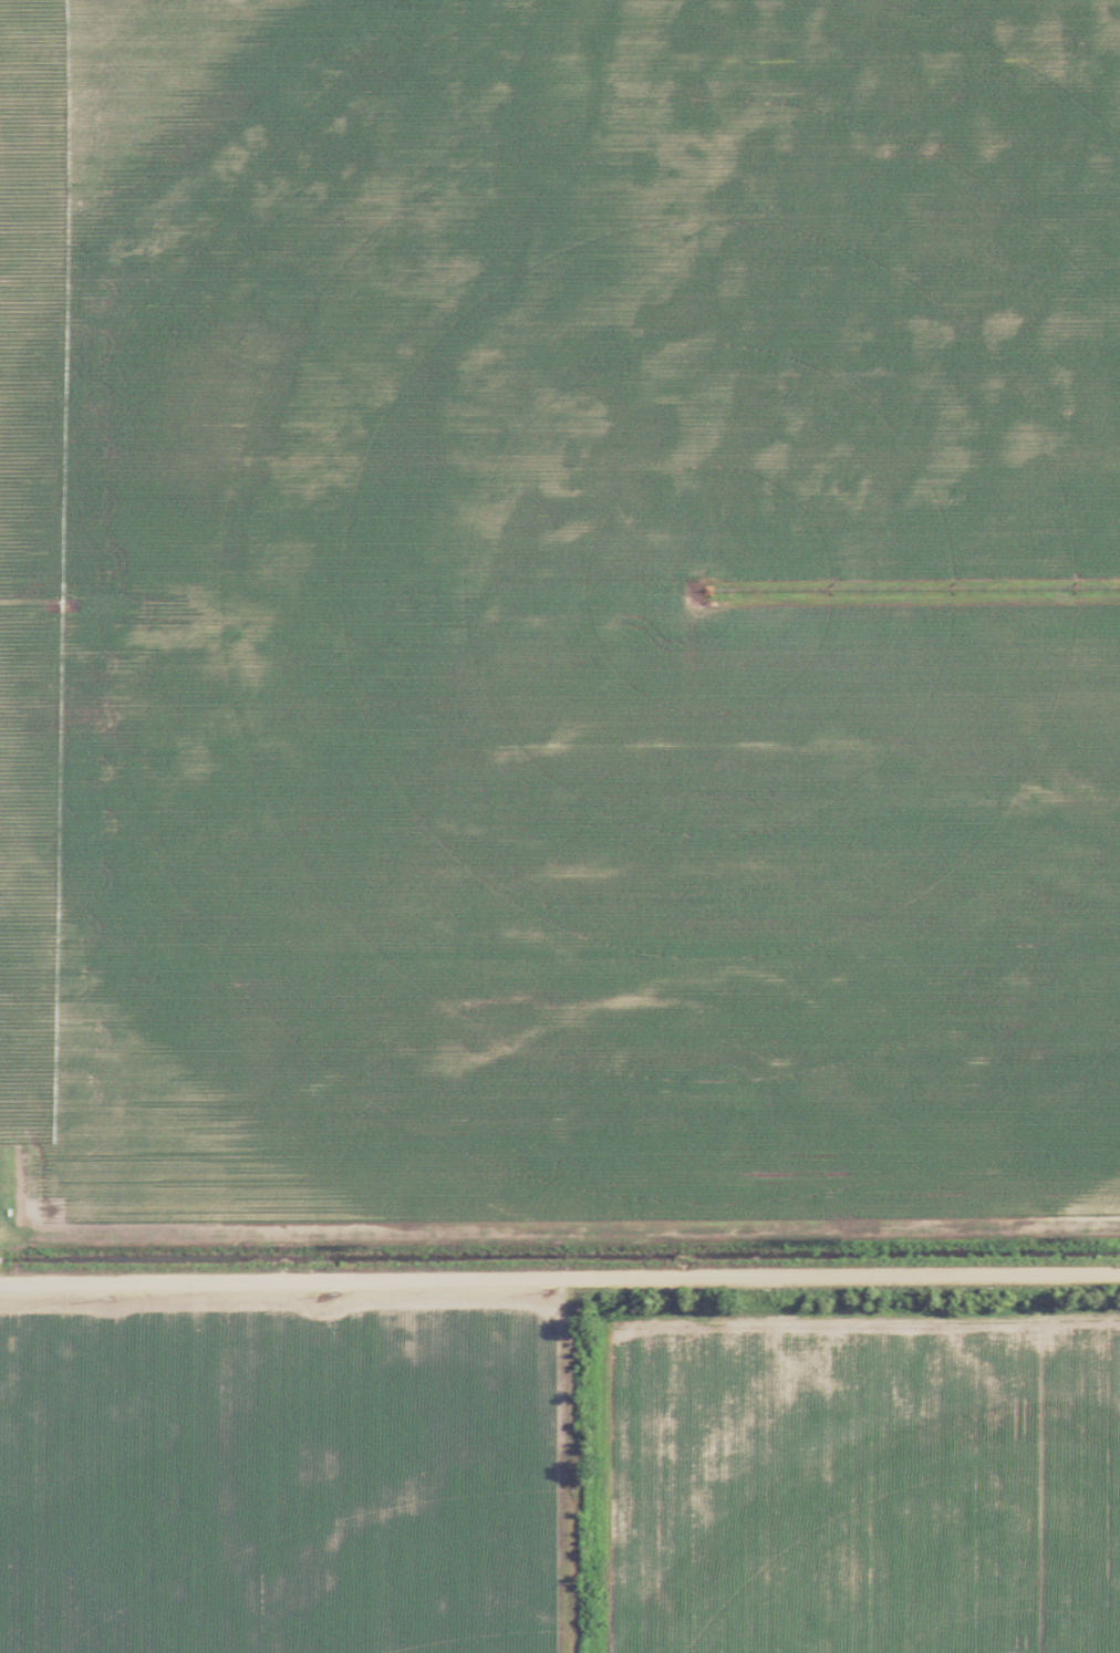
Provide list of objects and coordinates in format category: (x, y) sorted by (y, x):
road: (559, 1283)

